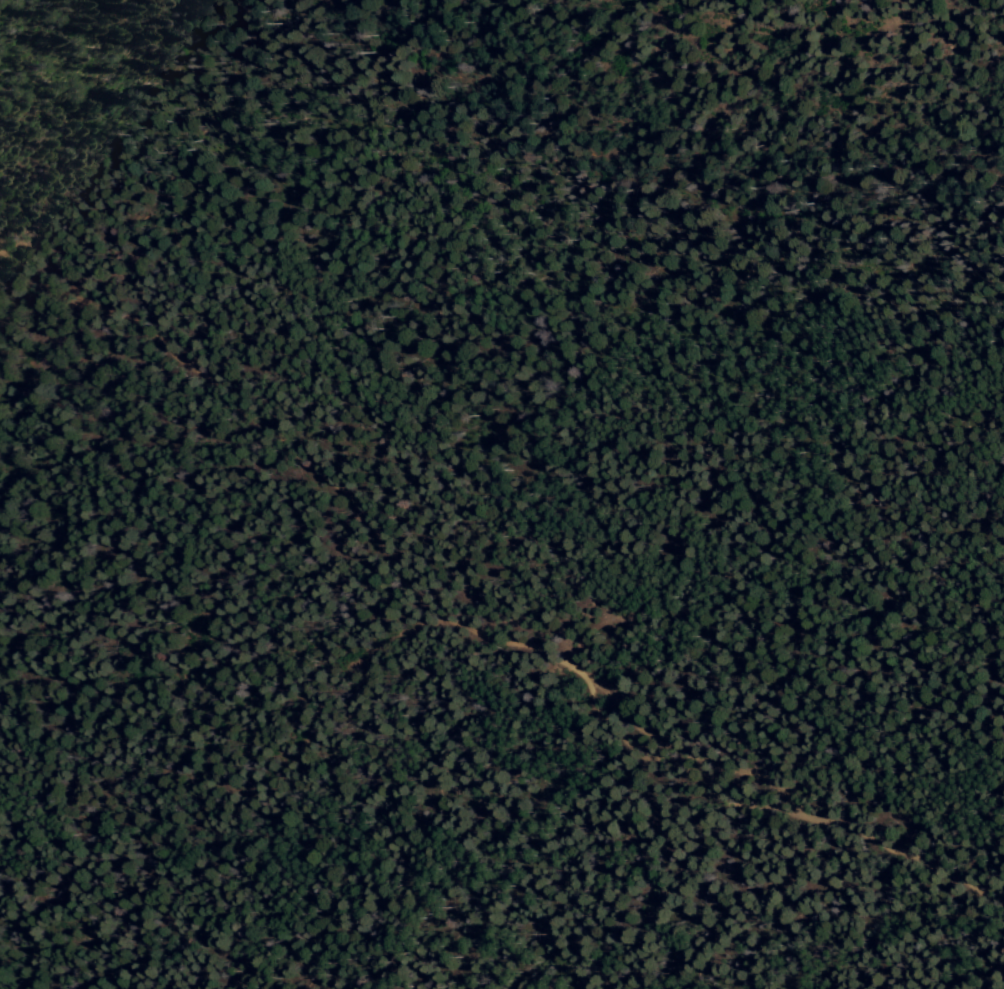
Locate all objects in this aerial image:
road: (465, 626)

